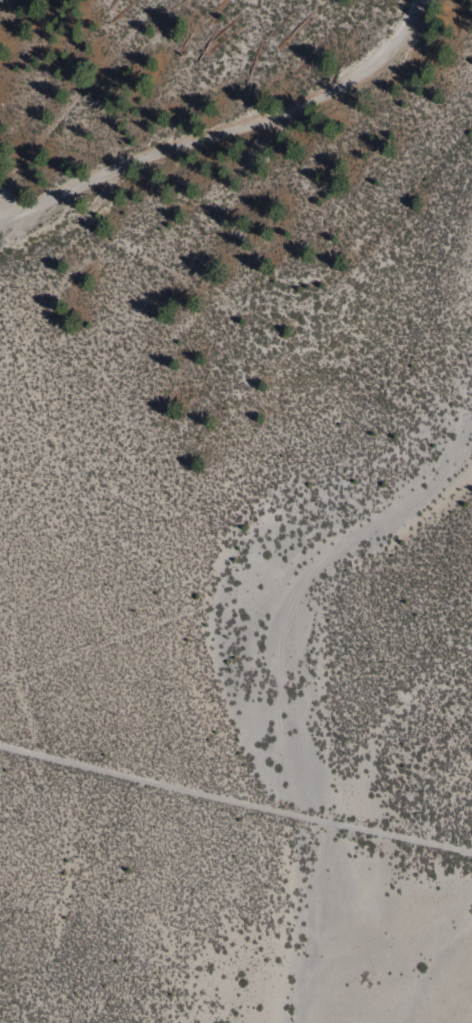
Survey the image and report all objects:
road: (225, 125)
road: (236, 799)

